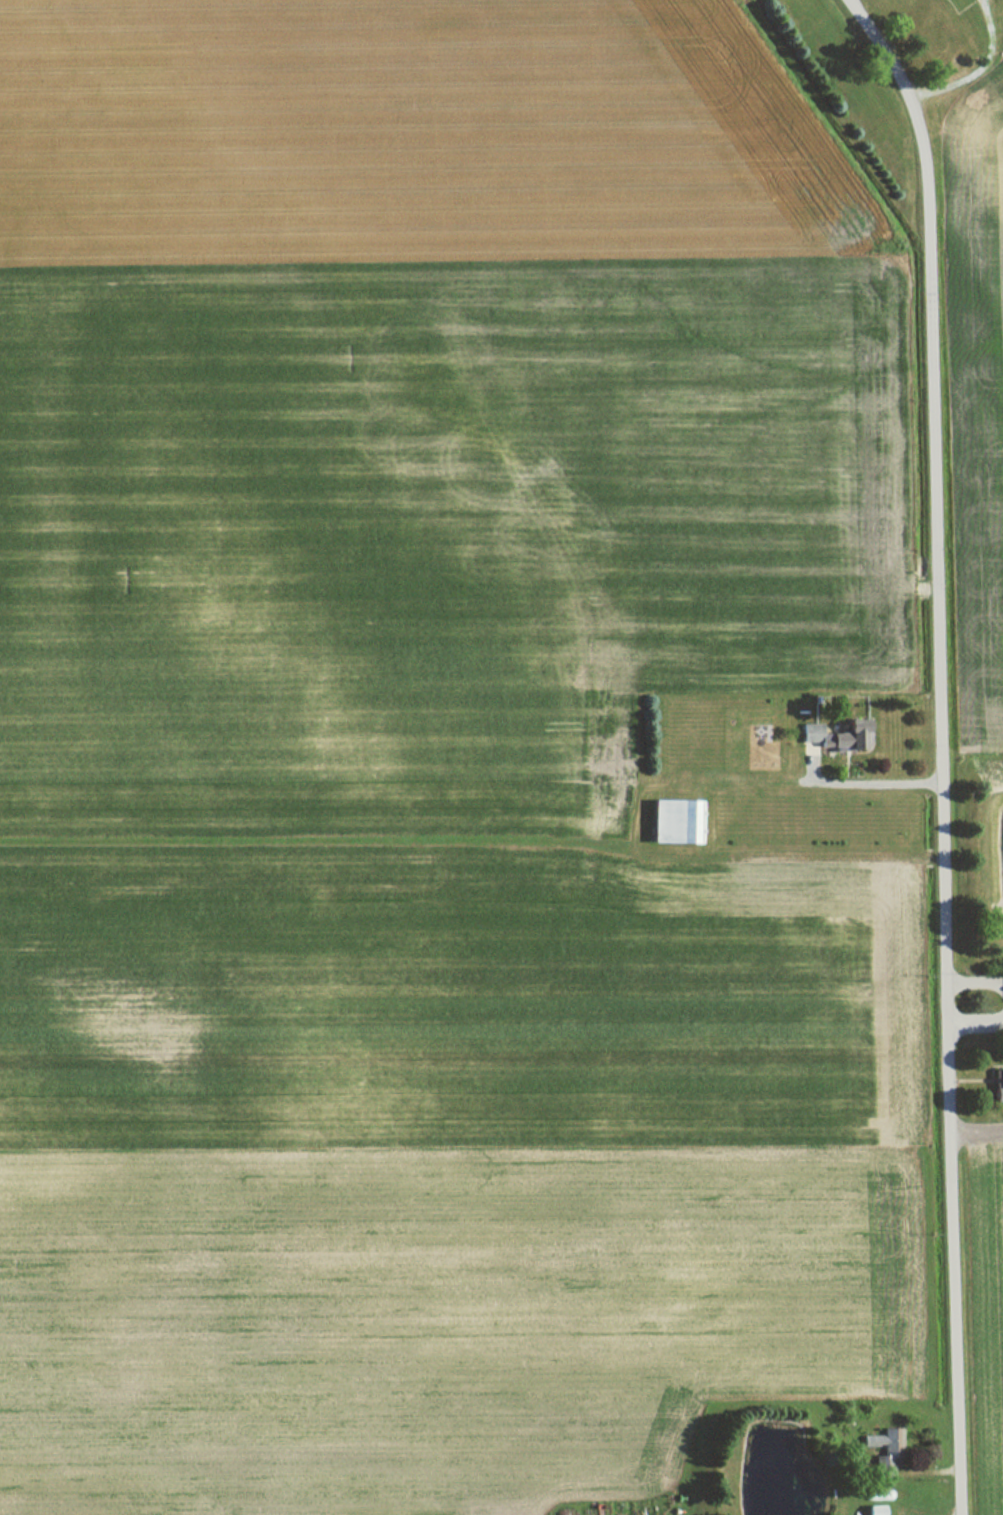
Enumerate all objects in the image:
crop: (983, 370)
building: (811, 733)
road: (943, 746)
crop: (429, 755)
road: (860, 781)
building: (671, 820)
road: (976, 983)
road: (976, 1022)
building: (997, 1088)
road: (977, 1130)
crop: (991, 1321)

